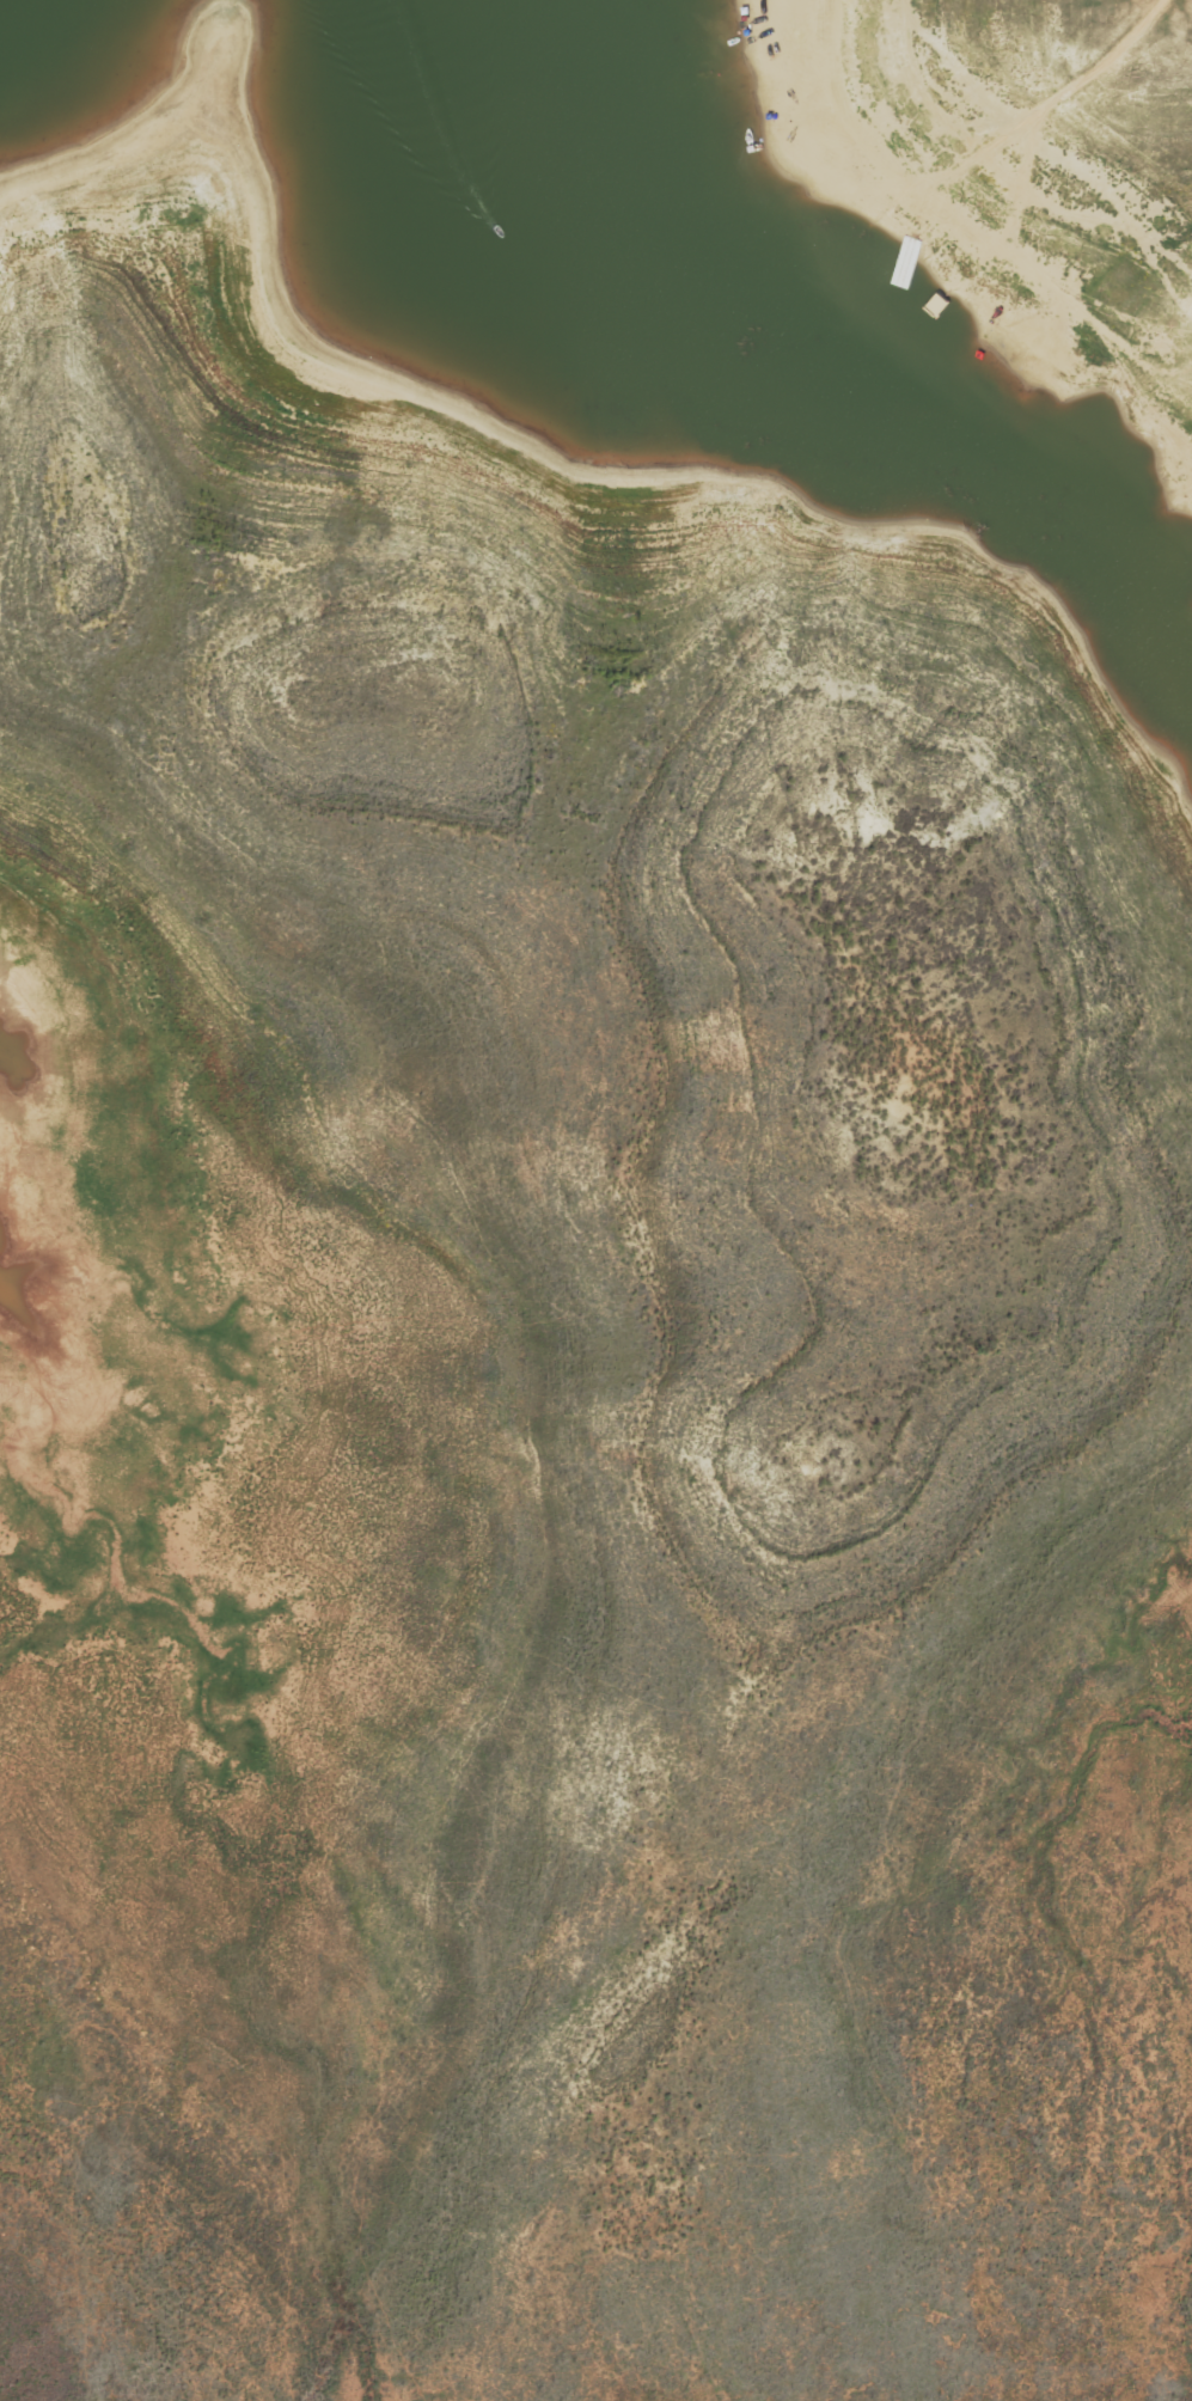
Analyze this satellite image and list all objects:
building: (897, 286)

